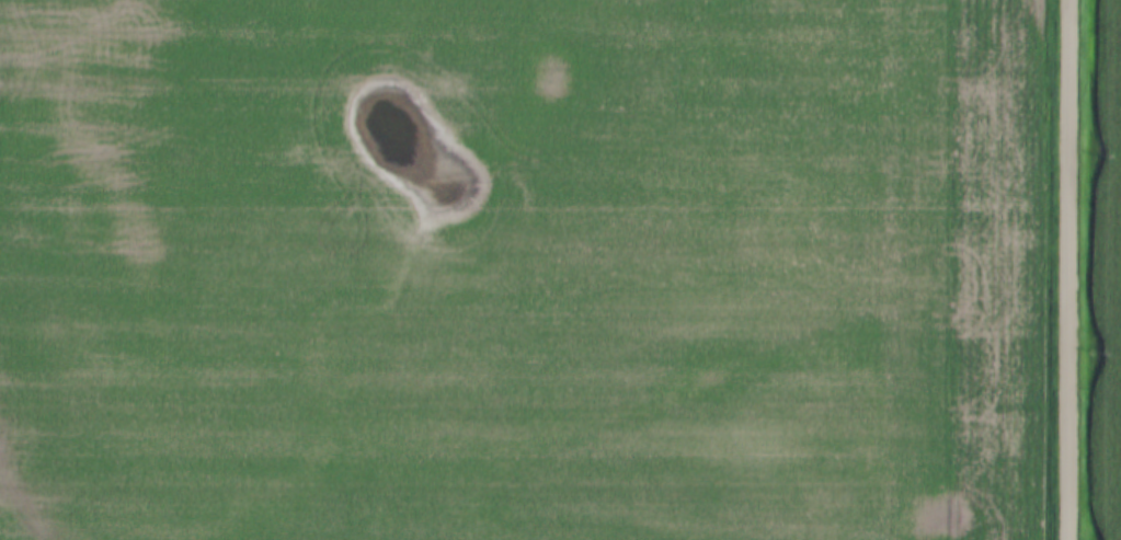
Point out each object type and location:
road: (1067, 269)

